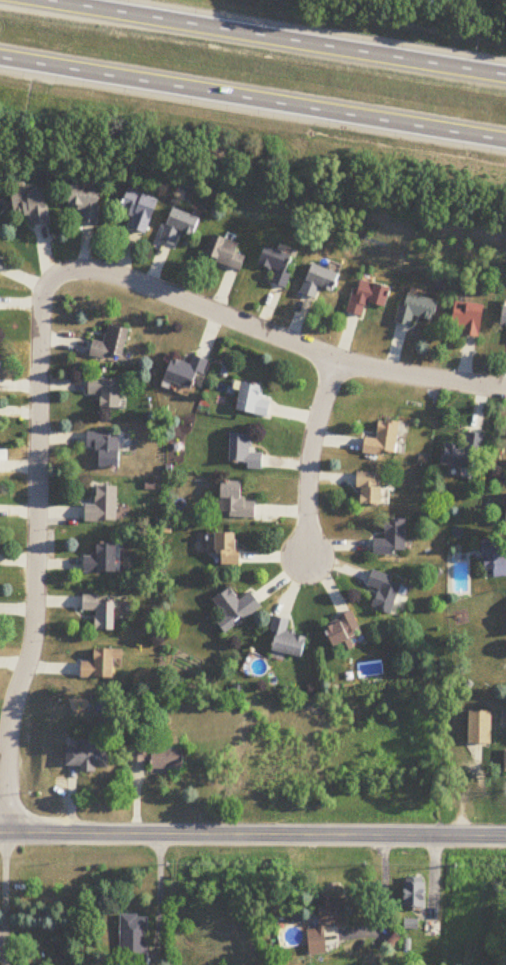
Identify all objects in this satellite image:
road: (273, 37)
road: (253, 101)
building: (86, 203)
building: (32, 206)
building: (140, 211)
building: (179, 227)
building: (0, 242)
building: (226, 253)
building: (2, 265)
building: (278, 265)
building: (319, 281)
building: (362, 296)
building: (410, 308)
building: (500, 316)
building: (461, 318)
road: (288, 342)
building: (112, 343)
building: (185, 372)
building: (106, 391)
building: (252, 400)
building: (384, 440)
building: (106, 448)
building: (244, 451)
building: (458, 452)
road: (310, 457)
building: (372, 490)
building: (235, 500)
building: (103, 506)
building: (503, 510)
building: (393, 539)
road: (37, 543)
building: (229, 548)
building: (488, 557)
building: (103, 559)
building: (386, 591)
building: (504, 606)
building: (236, 608)
building: (101, 612)
building: (343, 631)
building: (288, 639)
building: (101, 664)
building: (480, 727)
building: (139, 753)
building: (89, 756)
building: (168, 759)
road: (2, 800)
road: (252, 834)
road: (5, 887)
building: (415, 894)
road: (157, 899)
building: (328, 923)
building: (432, 929)
building: (133, 940)

